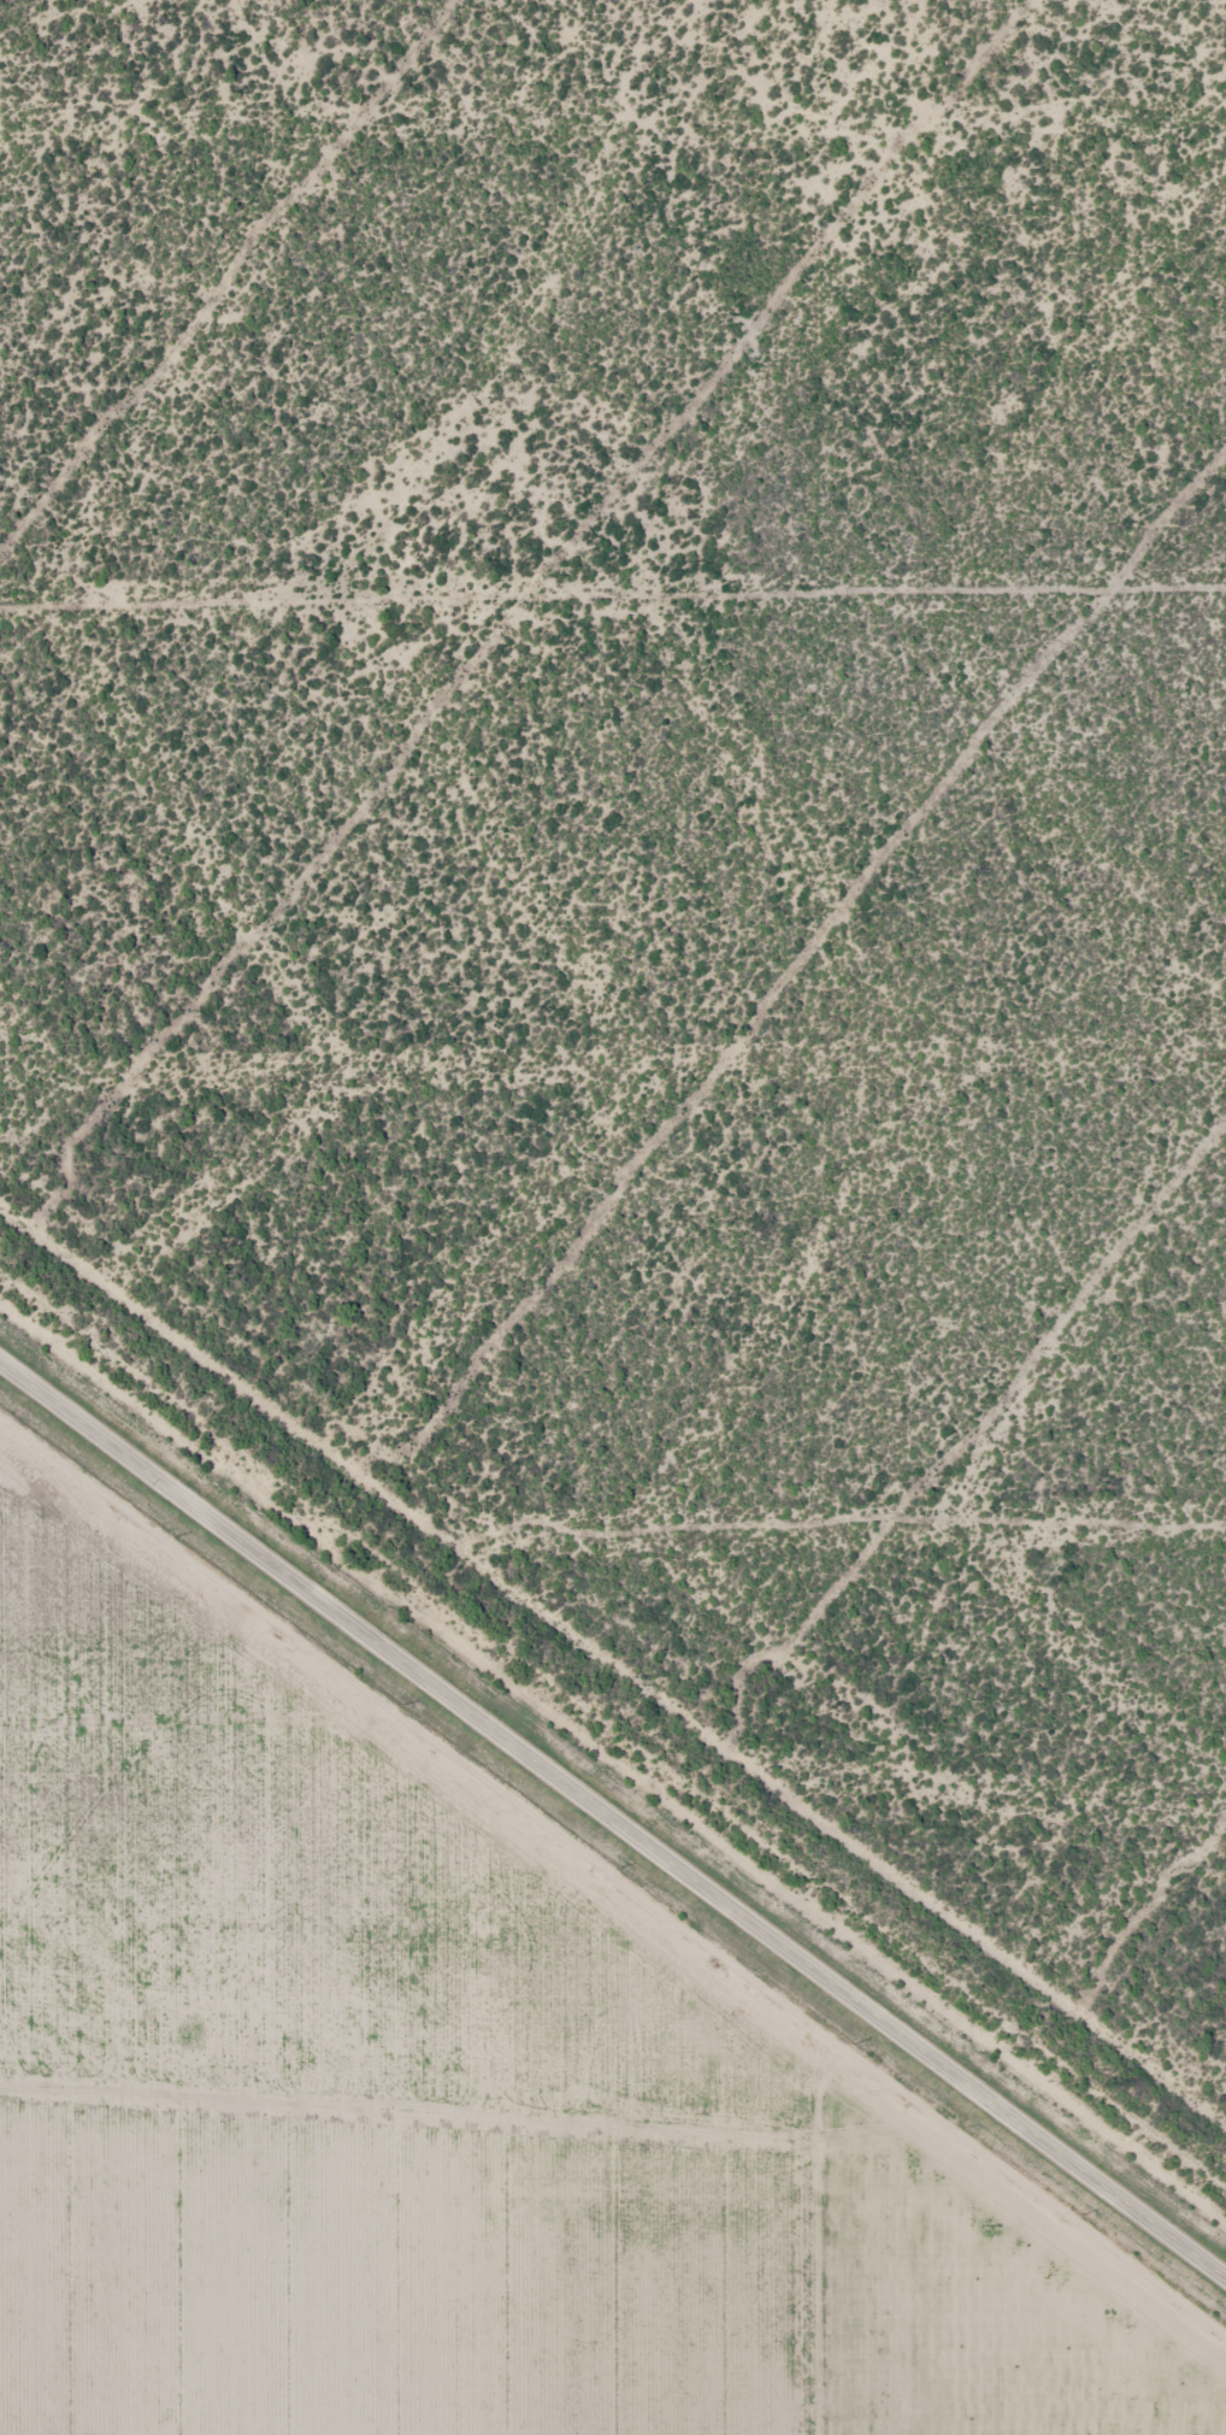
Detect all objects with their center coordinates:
road: (613, 1808)

